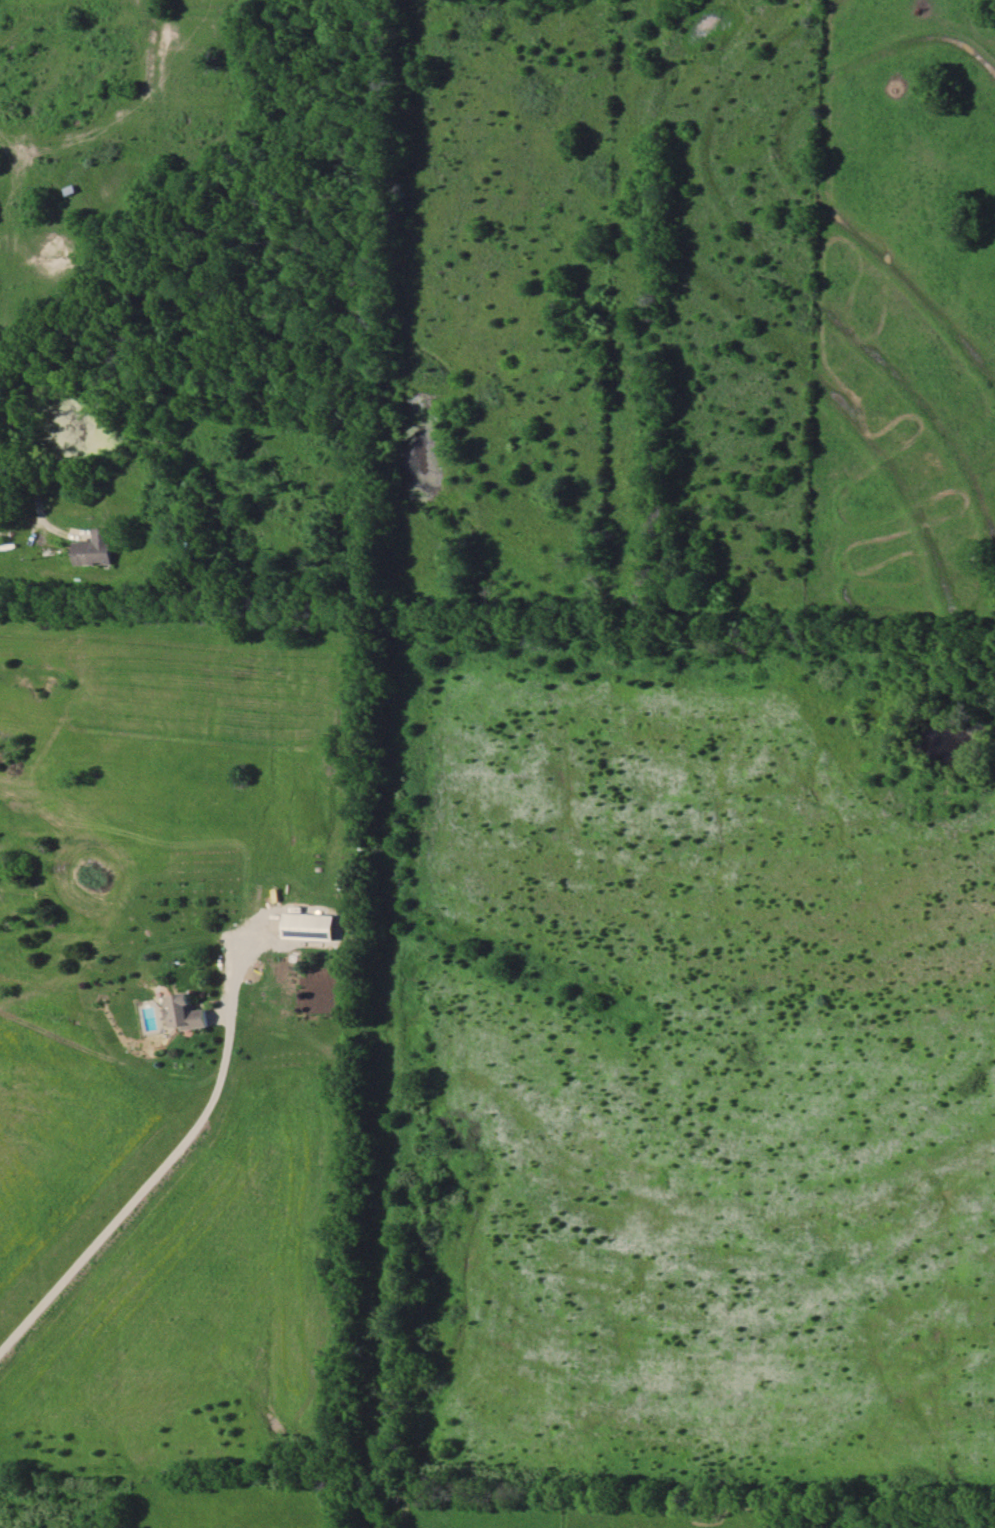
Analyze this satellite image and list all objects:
road: (22, 463)
building: (95, 550)
building: (309, 928)
building: (186, 1014)
road: (133, 1201)

